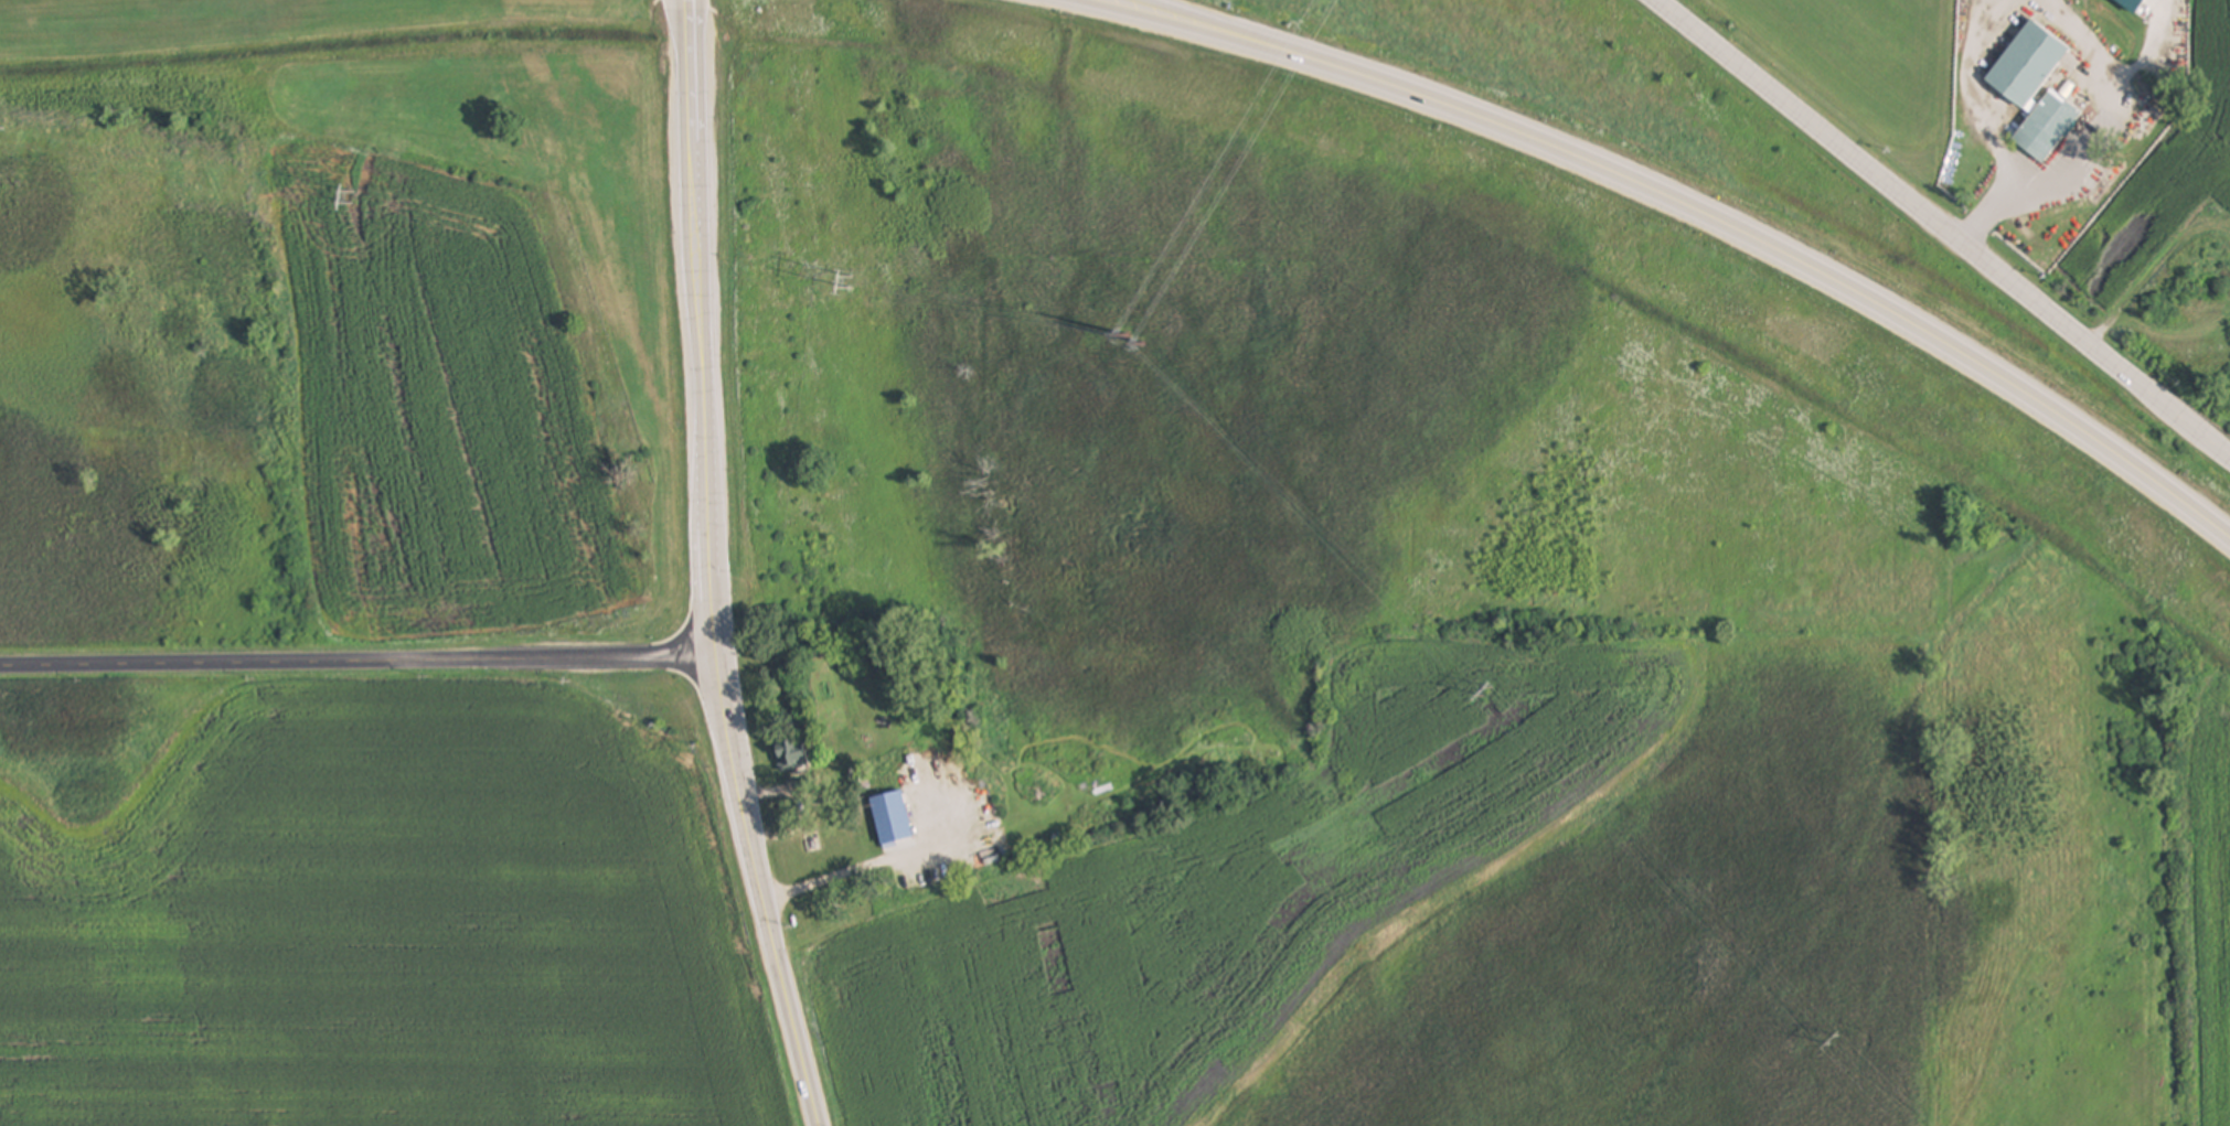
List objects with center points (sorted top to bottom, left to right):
road: (1121, 1)
road: (1127, 1)
road: (686, 8)
road: (690, 8)
road: (1968, 89)
building: (2037, 90)
road: (2113, 110)
power tower: (353, 200)
road: (1988, 214)
road: (1707, 221)
road: (1943, 228)
power tower: (852, 282)
road: (714, 576)
road: (361, 667)
building: (792, 755)
building: (890, 819)
road: (829, 880)

